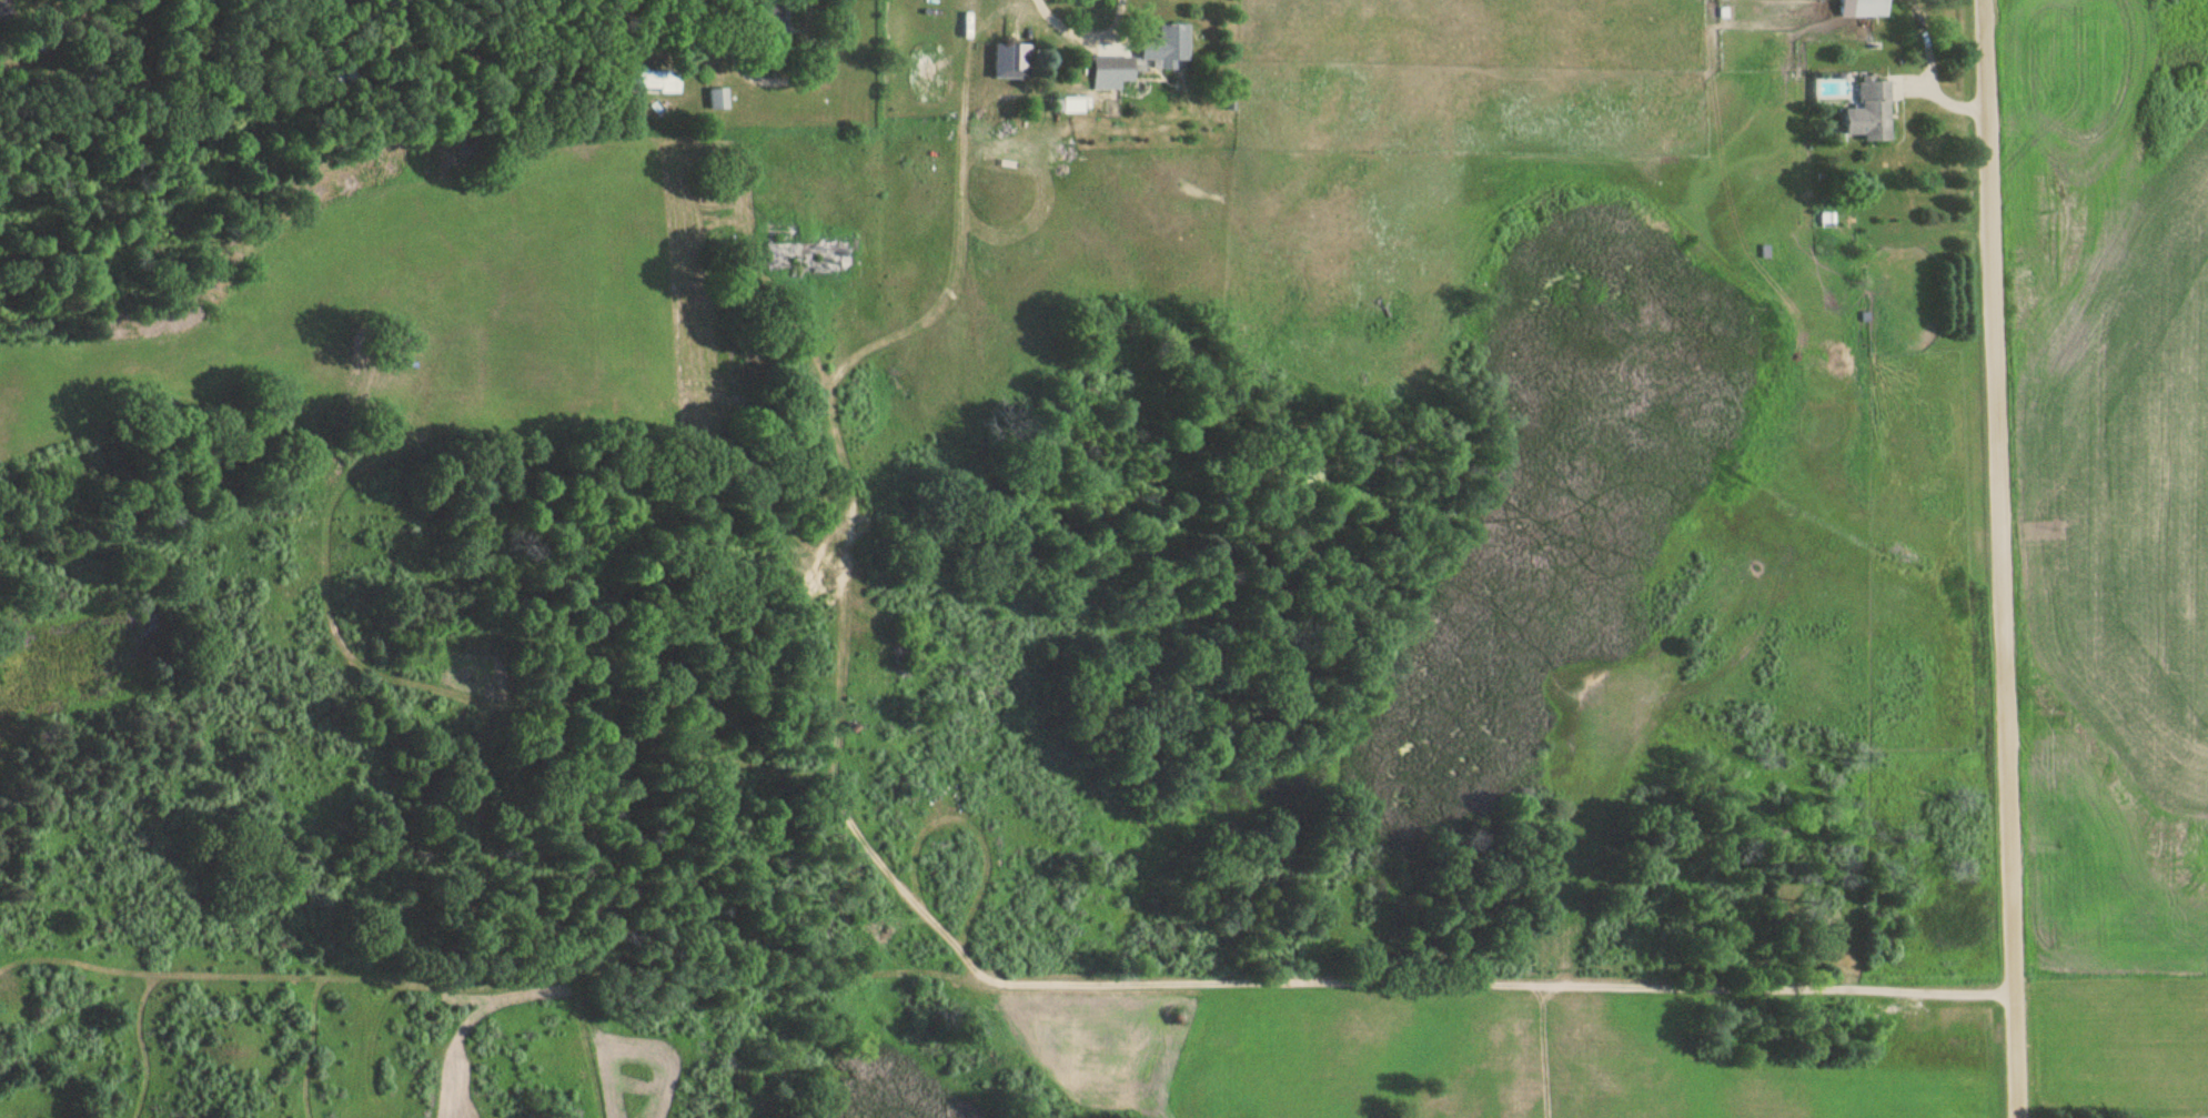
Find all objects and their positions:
building: (1865, 8)
building: (2, 12)
building: (1168, 48)
building: (1011, 61)
building: (1112, 69)
building: (656, 81)
building: (717, 99)
building: (1872, 113)
building: (784, 259)
road: (2004, 558)
road: (1512, 983)

